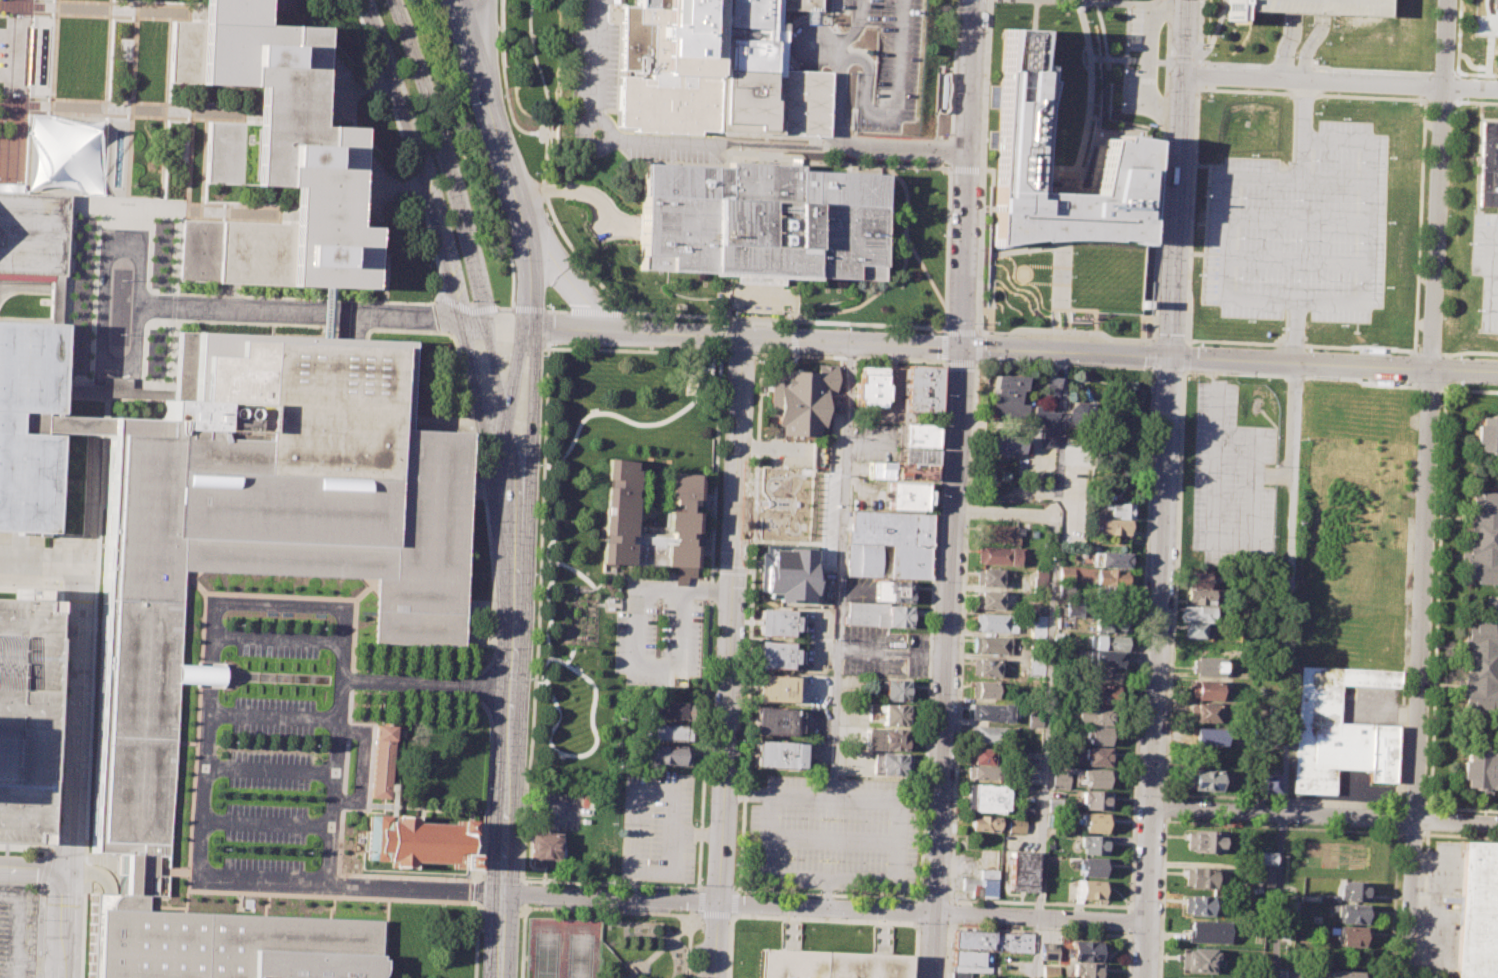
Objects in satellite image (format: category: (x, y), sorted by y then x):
street lamp: (379, 3)
road: (1098, 4)
building: (1493, 4)
road: (27, 6)
road: (80, 7)
road: (1293, 7)
building: (1310, 7)
parking lot: (1310, 7)
road: (1324, 8)
road: (168, 11)
building: (1497, 12)
road: (1036, 15)
road: (107, 17)
road: (200, 21)
road: (855, 26)
road: (1085, 29)
road: (10, 31)
road: (1127, 32)
road: (796, 43)
road: (1286, 46)
building: (1494, 46)
road: (1310, 47)
road: (469, 50)
road: (486, 50)
fountain: (41, 56)
building: (690, 60)
road: (1149, 62)
road: (1155, 62)
parking lot: (886, 65)
road: (536, 67)
road: (1356, 70)
road: (133, 77)
street lamp: (406, 77)
road: (9, 78)
road: (18, 79)
park: (533, 79)
road: (1110, 82)
road: (1341, 84)
road: (359, 88)
street lamp: (502, 95)
road: (837, 97)
road: (48, 101)
road: (23, 104)
street lamp: (466, 104)
road: (50, 105)
road: (164, 105)
road: (1099, 105)
road: (79, 106)
road: (508, 108)
road: (130, 109)
road: (894, 109)
road: (52, 113)
road: (218, 113)
road: (1093, 118)
road: (186, 120)
road: (255, 122)
road: (100, 128)
road: (1303, 130)
road: (712, 141)
road: (1353, 141)
road: (403, 146)
building: (1123, 151)
street lamp: (430, 152)
road: (130, 154)
building: (270, 154)
building: (66, 155)
road: (29, 156)
fountain: (115, 158)
road: (189, 159)
road: (414, 159)
road: (444, 160)
building: (1487, 164)
road: (949, 165)
road: (958, 168)
road: (504, 170)
street lamp: (534, 173)
road: (967, 174)
road: (1072, 176)
road: (1180, 180)
road: (393, 187)
road: (580, 190)
road: (991, 200)
road: (69, 210)
road: (191, 211)
road: (97, 212)
road: (251, 213)
road: (152, 215)
street lamp: (549, 220)
road: (1298, 220)
building: (762, 221)
road: (291, 223)
street lamp: (451, 228)
parking lot: (1300, 229)
building: (31, 234)
road: (1230, 237)
road: (1364, 238)
road: (575, 253)
street lamp: (573, 259)
road: (1159, 259)
road: (1296, 261)
parking lot: (1484, 266)
road: (1492, 272)
road: (1486, 275)
flagpole: (121, 281)
road: (528, 282)
road: (568, 285)
road: (1061, 285)
road: (0, 296)
street lamp: (469, 300)
road: (102, 302)
street lamp: (544, 305)
road: (174, 307)
road: (460, 307)
road: (505, 309)
road: (535, 309)
road: (556, 310)
road: (597, 312)
road: (300, 313)
road: (327, 313)
road: (442, 314)
road: (671, 315)
street lamp: (650, 318)
road: (756, 319)
road: (473, 322)
road: (239, 324)
road: (865, 324)
road: (570, 328)
road: (1156, 329)
road: (956, 331)
flagpole: (119, 333)
road: (722, 333)
road: (981, 333)
road: (1296, 333)
road: (790, 338)
road: (786, 339)
road: (1169, 339)
road: (1148, 342)
road: (940, 347)
road: (974, 347)
street lamp: (455, 352)
road: (1066, 354)
road: (1151, 354)
street lamp: (542, 355)
road: (1184, 356)
road: (956, 363)
road: (494, 365)
road: (513, 366)
road: (1334, 369)
road: (1166, 370)
road: (171, 371)
road: (475, 381)
road: (112, 383)
building: (1049, 384)
road: (105, 386)
building: (870, 388)
building: (920, 388)
road: (530, 396)
building: (799, 399)
building: (1039, 412)
building: (27, 425)
road: (497, 425)
road: (82, 426)
building: (914, 435)
road: (1254, 435)
building: (1486, 435)
building: (1003, 442)
road: (770, 451)
building: (914, 455)
street lamp: (480, 463)
road: (59, 465)
street lamp: (538, 465)
building: (900, 471)
road: (513, 475)
parking lot: (1231, 480)
building: (796, 483)
road: (534, 484)
road: (1427, 489)
road: (92, 494)
building: (906, 496)
building: (615, 499)
building: (786, 506)
building: (1119, 510)
park: (566, 514)
road: (506, 520)
building: (786, 526)
building: (1111, 526)
building: (265, 531)
road: (524, 532)
building: (997, 532)
building: (1481, 538)
road: (1211, 542)
building: (888, 544)
road: (963, 544)
building: (998, 554)
road: (59, 559)
building: (1110, 560)
road: (41, 562)
road: (839, 569)
street lamp: (490, 572)
street lamp: (532, 574)
building: (1065, 574)
building: (790, 576)
building: (989, 576)
building: (1109, 576)
building: (1039, 577)
building: (1193, 580)
road: (29, 586)
building: (892, 591)
building: (1192, 595)
building: (990, 599)
building: (1073, 609)
road: (208, 614)
building: (876, 614)
building: (1192, 614)
road: (706, 620)
building: (773, 622)
building: (995, 622)
street lamp: (229, 624)
building: (1105, 624)
building: (1038, 627)
street lamp: (311, 628)
building: (1190, 630)
road: (271, 638)
parking lot: (656, 639)
building: (1057, 639)
road: (633, 641)
building: (1109, 642)
building: (991, 644)
building: (773, 655)
parking lot: (915, 655)
road: (727, 657)
street lamp: (490, 659)
building: (1037, 659)
building: (1106, 659)
road: (945, 663)
building: (987, 666)
building: (1202, 666)
building: (1477, 666)
road: (1155, 669)
street lamp: (348, 672)
street lamp: (364, 672)
road: (1285, 672)
street lamp: (381, 673)
road: (201, 674)
street lamp: (397, 674)
street lamp: (414, 674)
street lamp: (430, 675)
building: (1105, 675)
street lamp: (447, 676)
road: (215, 687)
building: (987, 688)
building: (773, 689)
building: (894, 689)
street lamp: (355, 690)
street lamp: (372, 690)
street lamp: (388, 691)
building: (1202, 691)
street lamp: (405, 692)
street lamp: (421, 693)
street lamp: (437, 694)
building: (1102, 694)
road: (1046, 697)
building: (663, 710)
road: (486, 711)
building: (989, 712)
road: (51, 714)
building: (893, 714)
building: (1093, 714)
building: (1200, 714)
road: (269, 716)
building: (772, 721)
building: (28, 722)
parking lot: (28, 722)
road: (1135, 727)
building: (1337, 729)
building: (662, 732)
building: (991, 734)
building: (1096, 734)
building: (1209, 737)
building: (884, 738)
street lamp: (738, 740)
street lamp: (224, 743)
parking lot: (267, 743)
street lamp: (307, 746)
road: (1165, 750)
building: (663, 753)
building: (776, 754)
building: (980, 756)
building: (1095, 756)
building: (376, 763)
building: (892, 763)
road: (357, 766)
road: (73, 770)
road: (266, 771)
building: (1479, 771)
building: (984, 773)
building: (1095, 778)
building: (1058, 779)
building: (1202, 779)
building: (1269, 780)
road: (329, 782)
road: (510, 788)
street lamp: (487, 789)
road: (643, 789)
road: (1148, 792)
road: (830, 795)
building: (985, 798)
building: (1093, 799)
building: (1054, 802)
building: (1025, 808)
road: (1164, 809)
road: (187, 810)
road: (1324, 817)
building: (984, 822)
building: (1094, 822)
road: (264, 823)
building: (1015, 826)
parking lot: (656, 828)
parking lot: (832, 832)
road: (829, 840)
building: (418, 841)
building: (1202, 841)
building: (1091, 844)
road: (23, 848)
building: (544, 848)
street lamp: (220, 850)
street lamp: (302, 853)
street lamp: (37, 855)
road: (337, 855)
building: (1266, 858)
street lamp: (484, 864)
street lamp: (732, 865)
road: (1203, 866)
road: (45, 867)
building: (1093, 867)
road: (34, 868)
road: (667, 868)
building: (1021, 871)
road: (95, 873)
road: (131, 875)
building: (1264, 876)
road: (828, 877)
building: (1200, 878)
road: (500, 879)
road: (607, 883)
building: (980, 883)
road: (414, 888)
building: (1086, 889)
road: (478, 891)
building: (1351, 891)
road: (823, 892)
road: (522, 895)
road: (695, 902)
street lamp: (534, 905)
building: (1197, 905)
road: (1128, 906)
road: (826, 908)
road: (501, 909)
road: (601, 911)
street lamp: (673, 911)
building: (1476, 911)
road: (948, 913)
street lamp: (753, 914)
building: (1350, 914)
road: (653, 924)
street lamp: (727, 930)
road: (38, 931)
building: (1208, 931)
parking lot: (18, 932)
building: (1350, 936)
road: (658, 937)
road: (475, 939)
park: (607, 939)
building: (972, 939)
building: (1013, 941)
building: (225, 944)
road: (663, 945)
park: (563, 949)
road: (946, 950)
building: (1086, 950)
building: (1049, 951)
building: (1198, 960)
building: (971, 961)
building: (828, 963)
building: (1086, 969)
building: (1050, 971)
building: (1293, 973)
road: (638, 974)
building: (1343, 974)
building: (958, 975)
building: (1189, 977)

